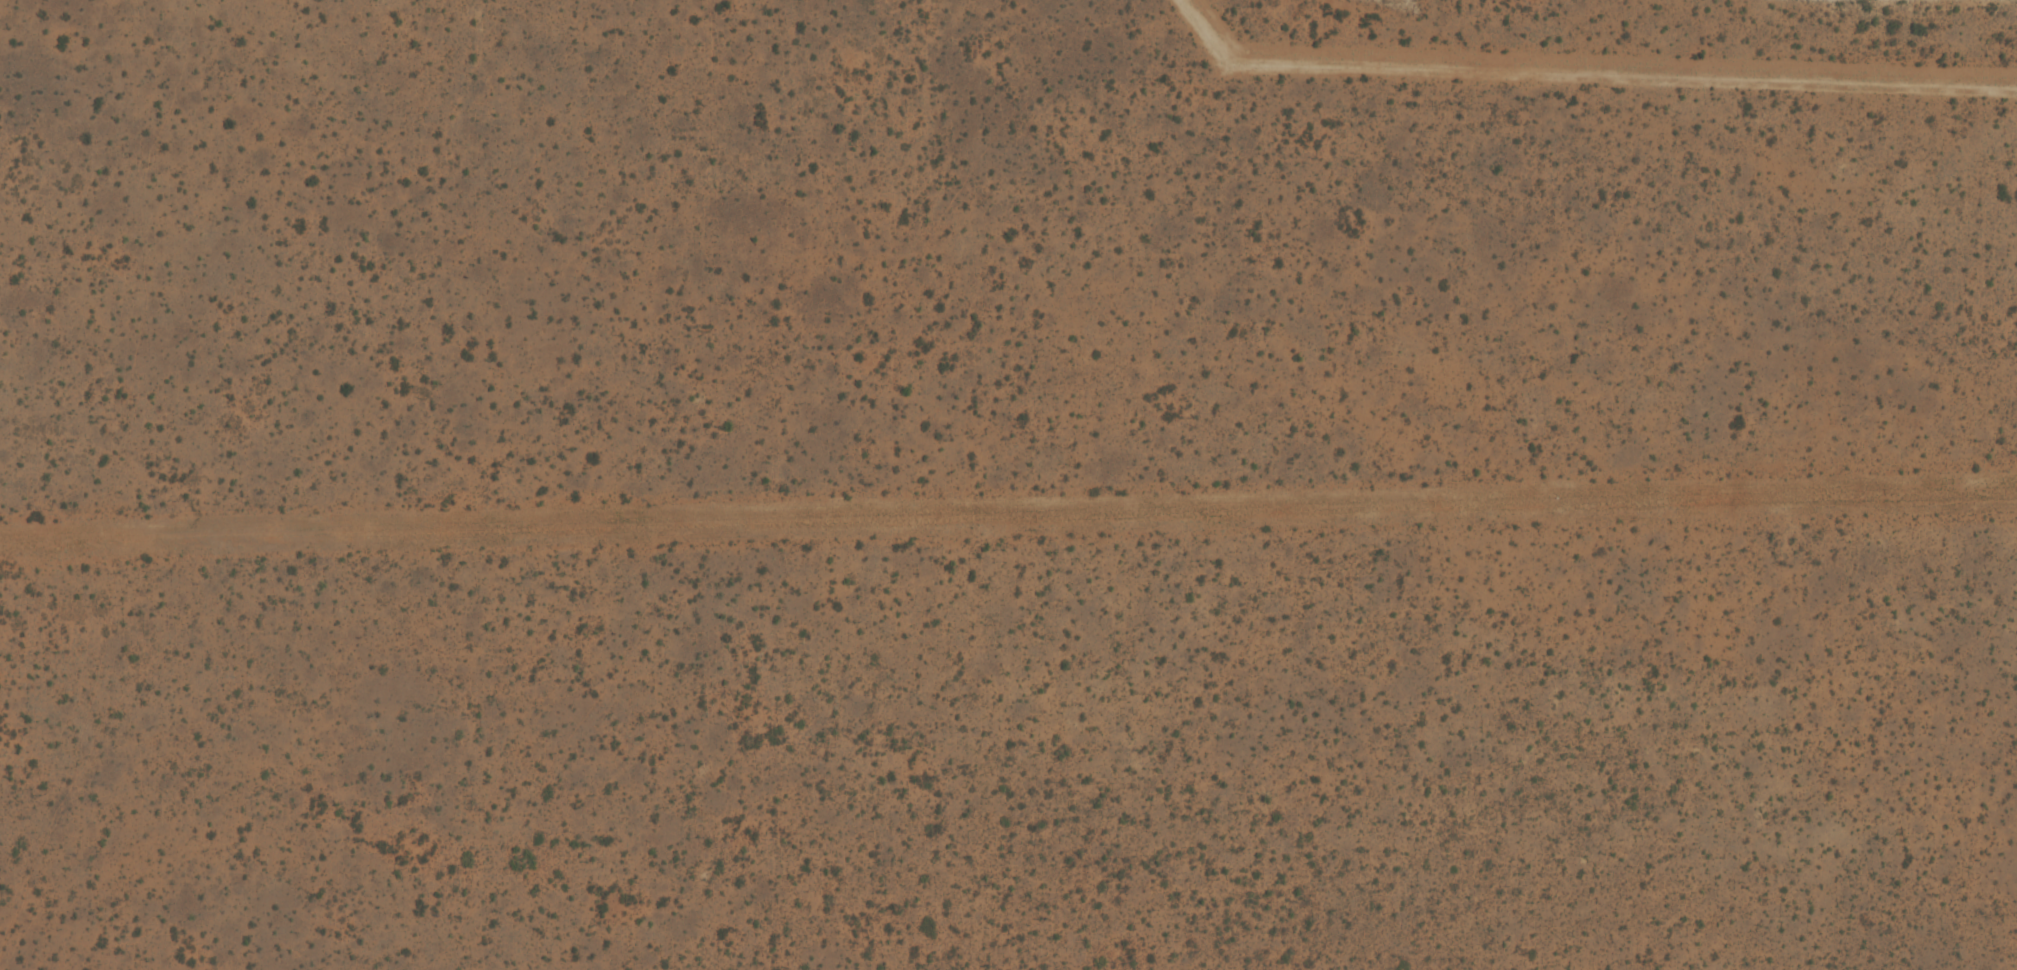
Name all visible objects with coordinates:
road: (1816, 2)

